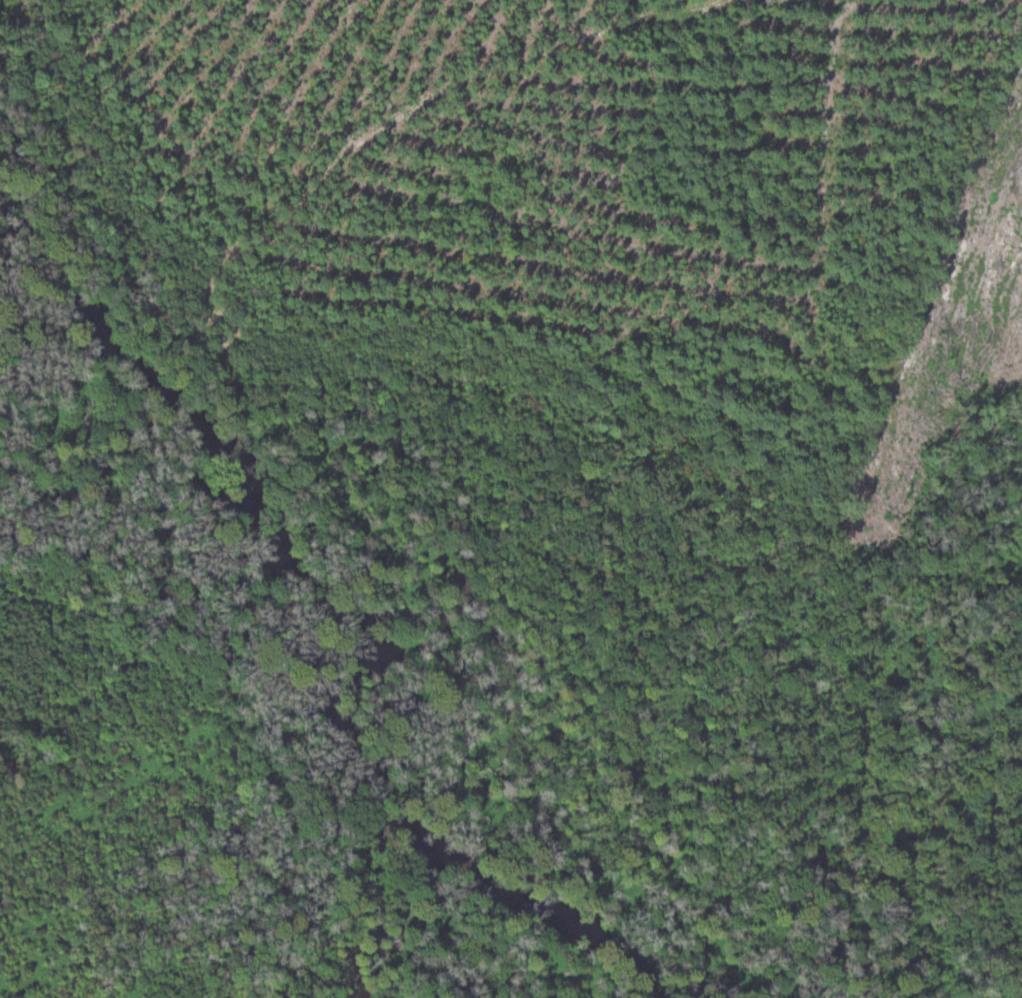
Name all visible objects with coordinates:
river: (351, 742)

